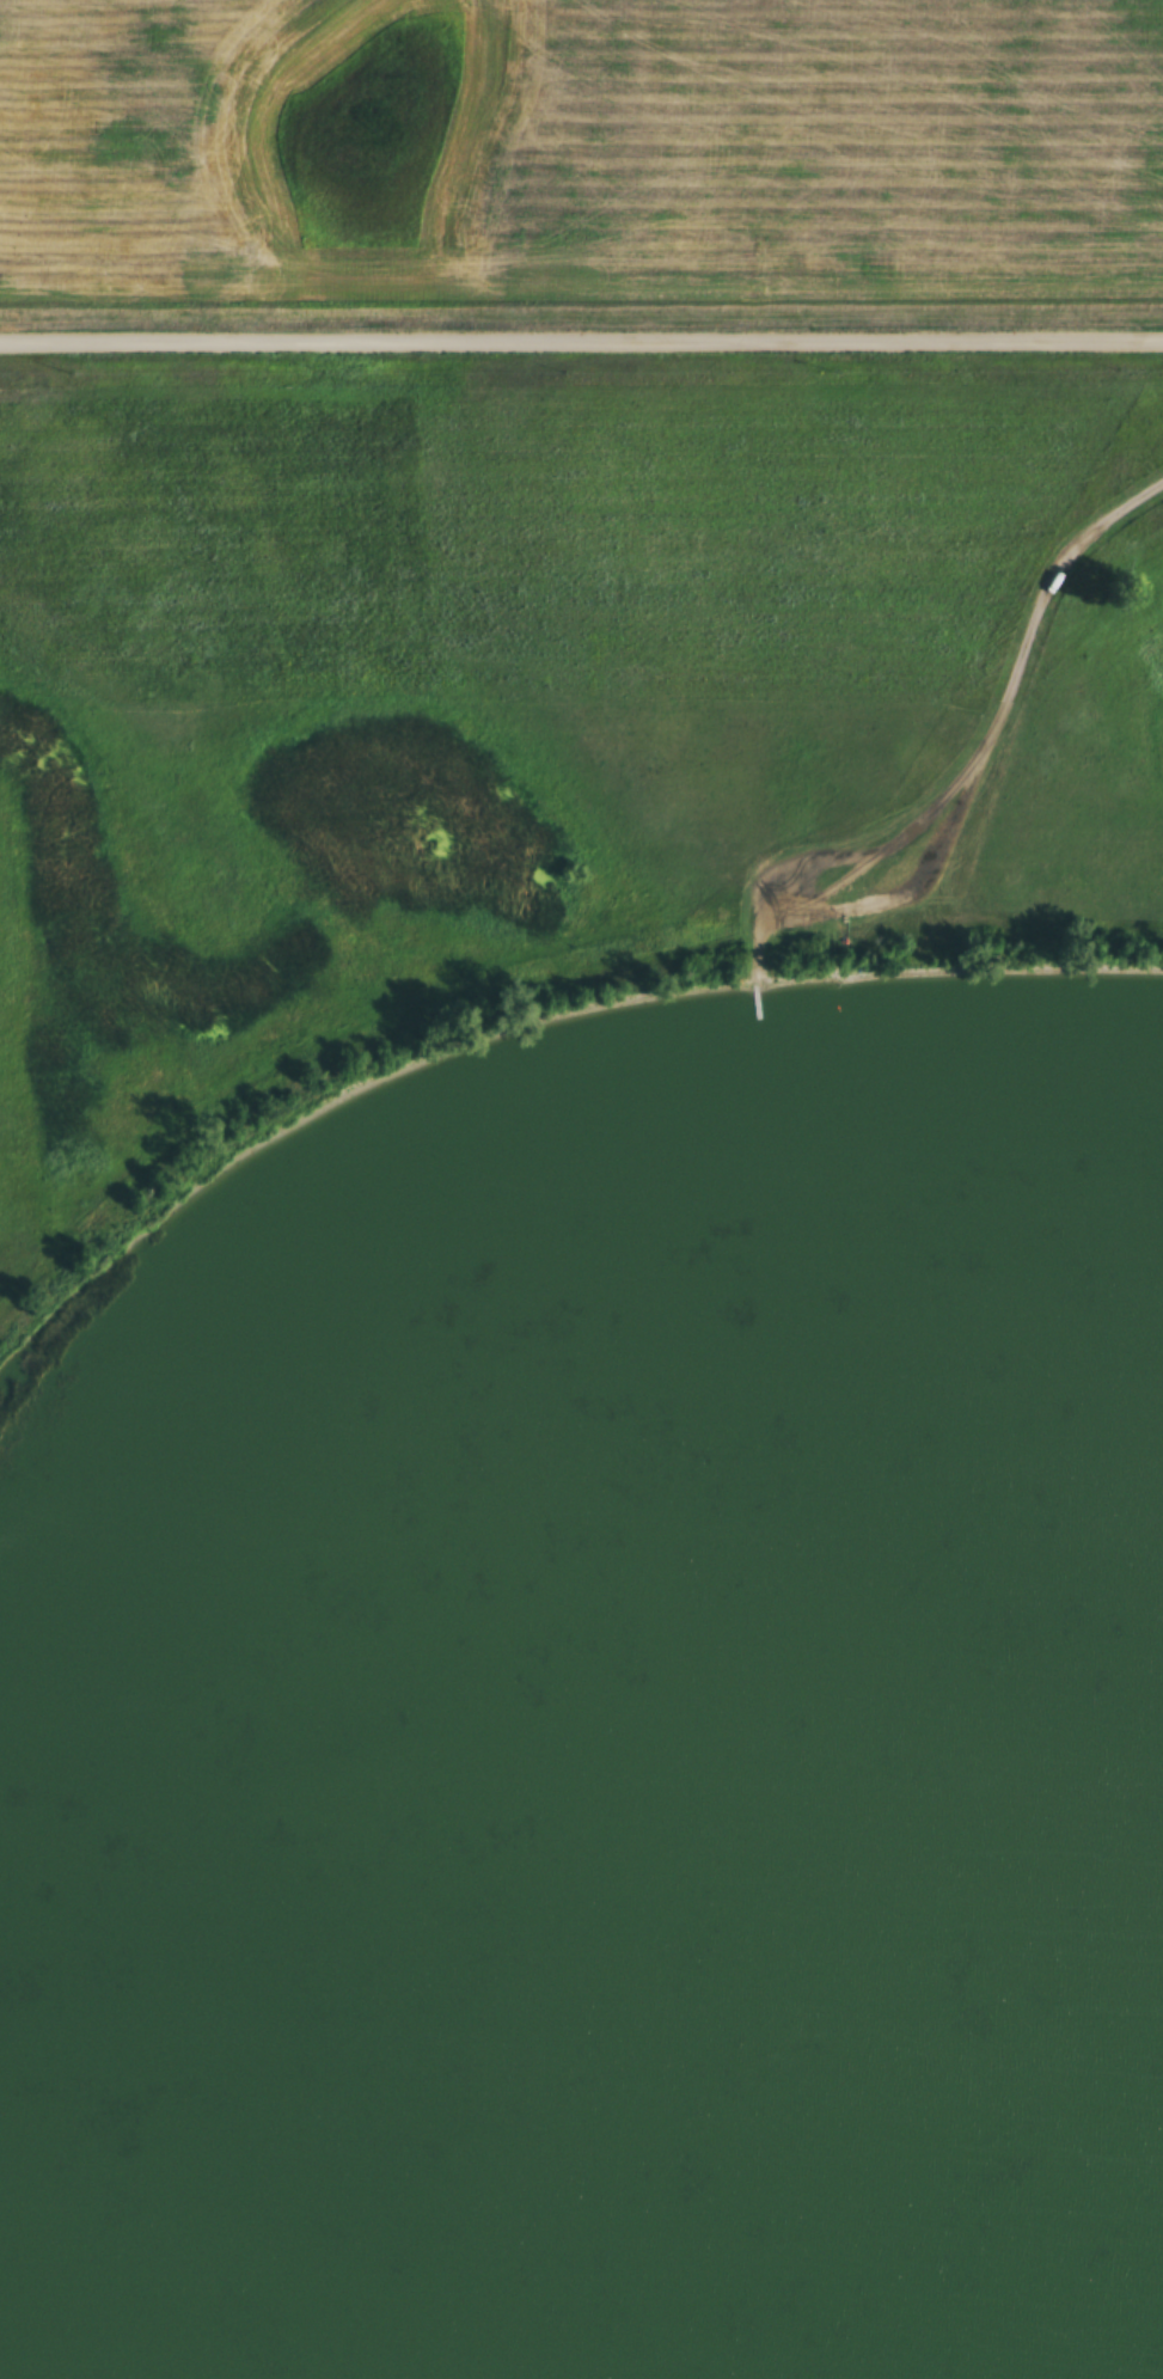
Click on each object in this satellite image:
road: (581, 338)
road: (998, 730)

